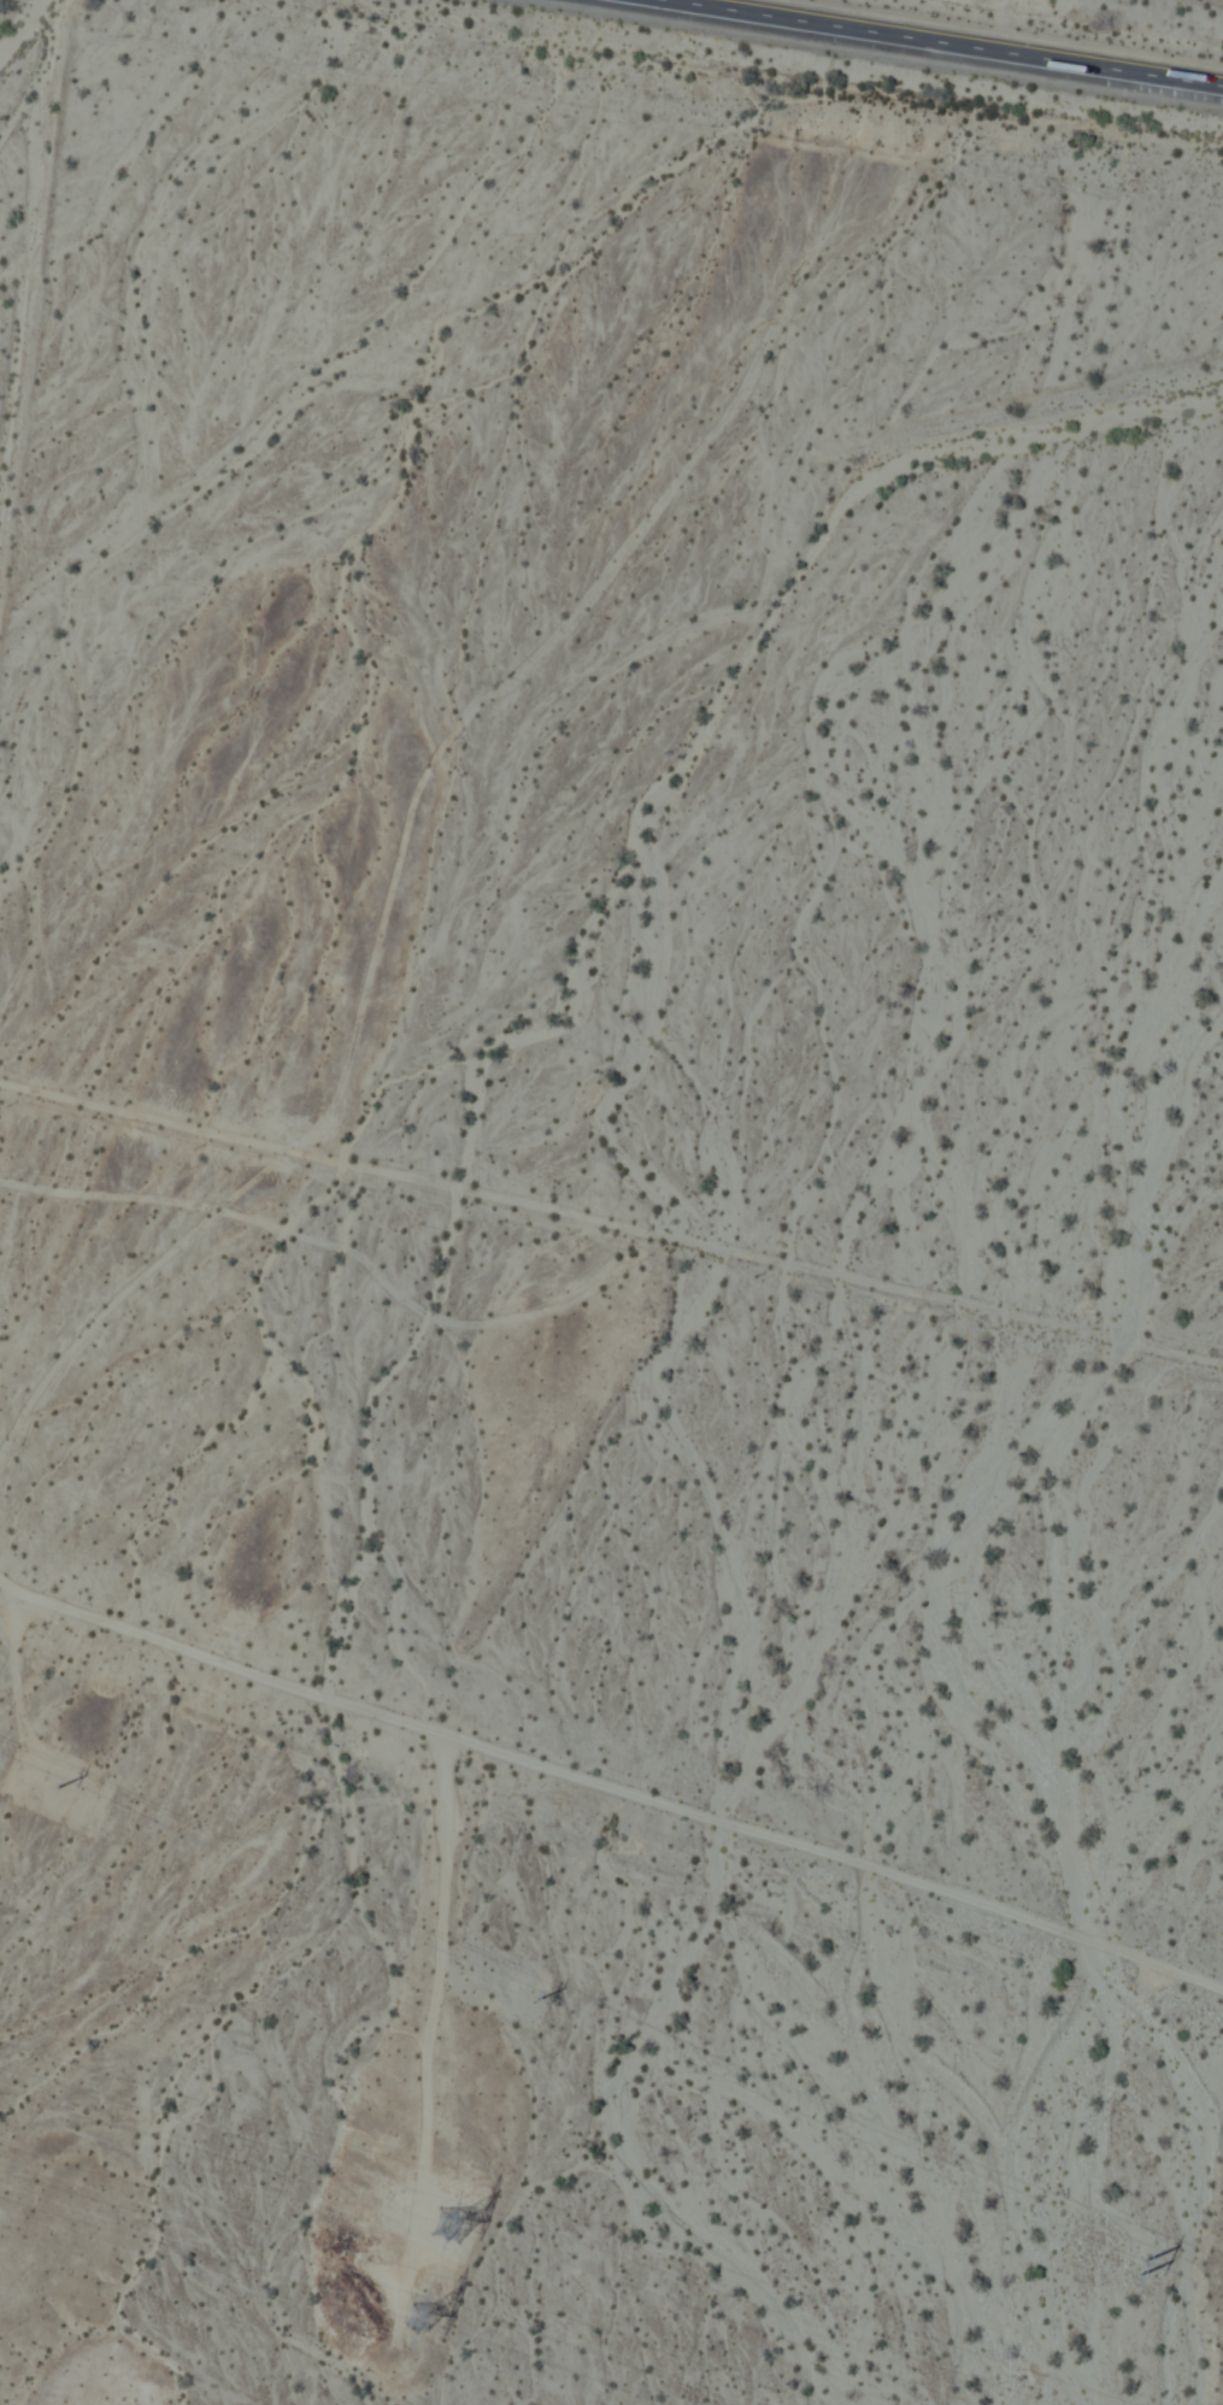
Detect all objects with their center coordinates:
road: (929, 45)
road: (611, 1224)
road: (608, 1788)
power tower: (445, 2227)
power tower: (1133, 2271)
power tower: (416, 2311)

